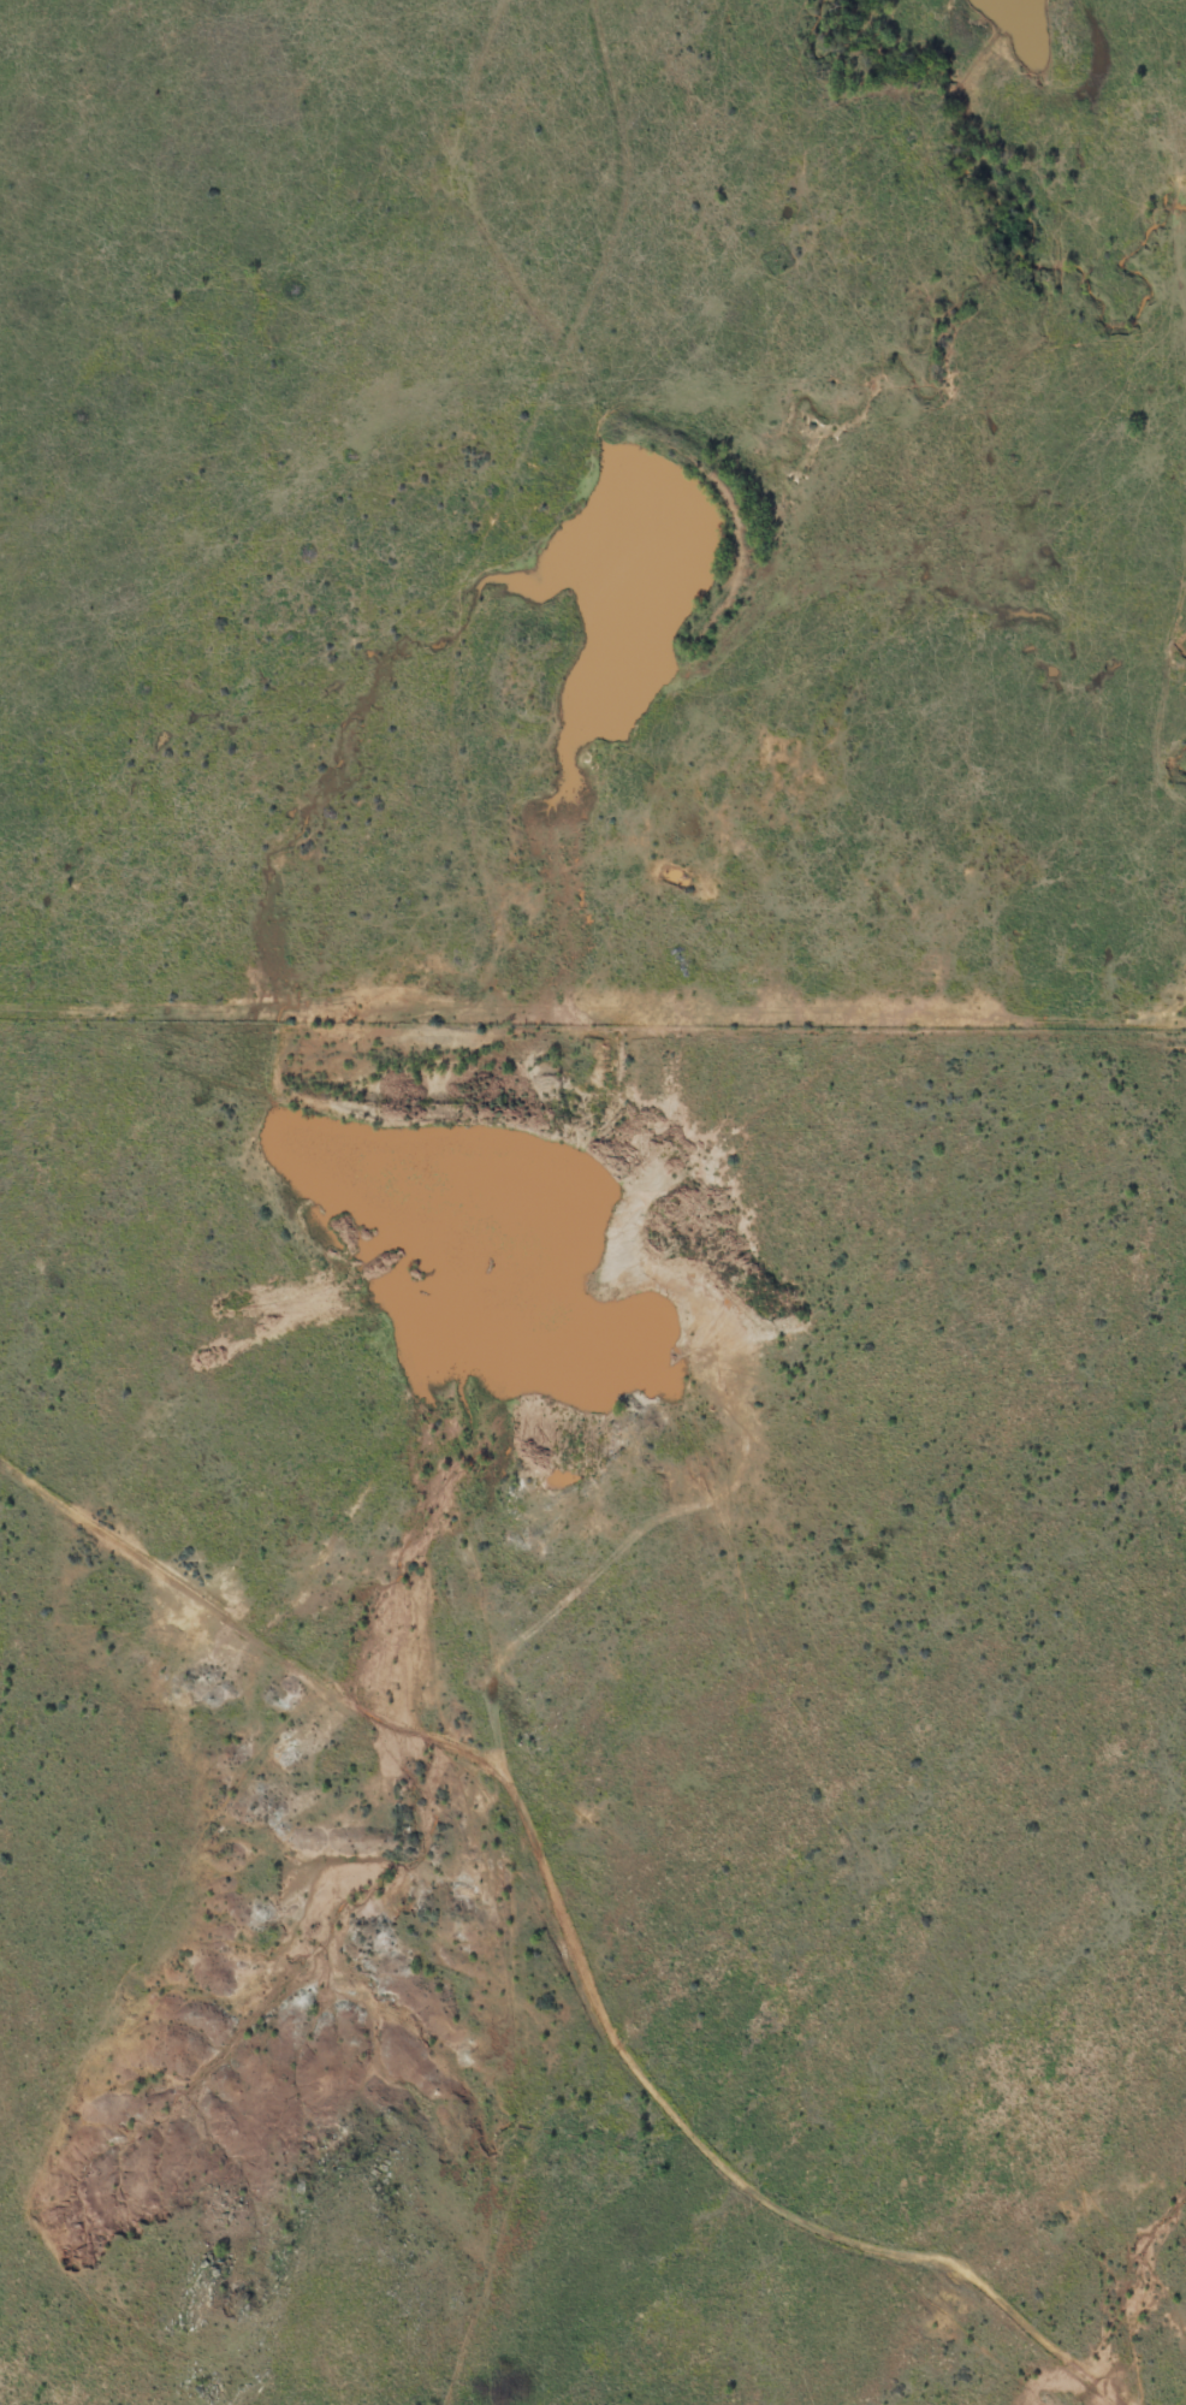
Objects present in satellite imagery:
road: (725, 2098)

